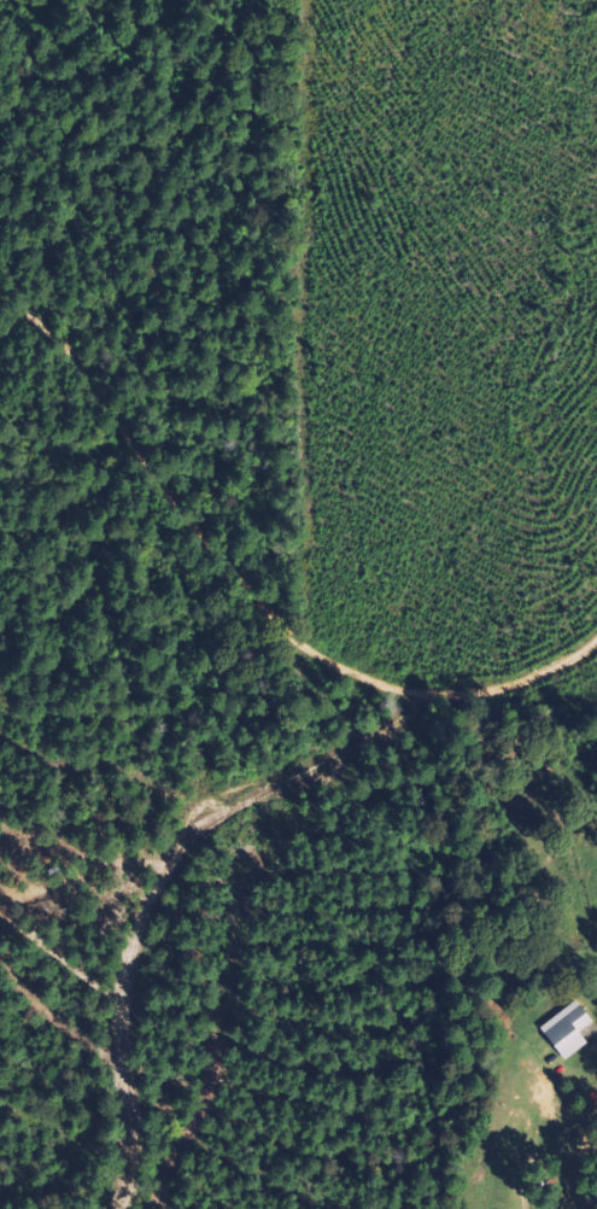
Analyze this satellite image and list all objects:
building: (569, 1029)
road: (564, 1110)

